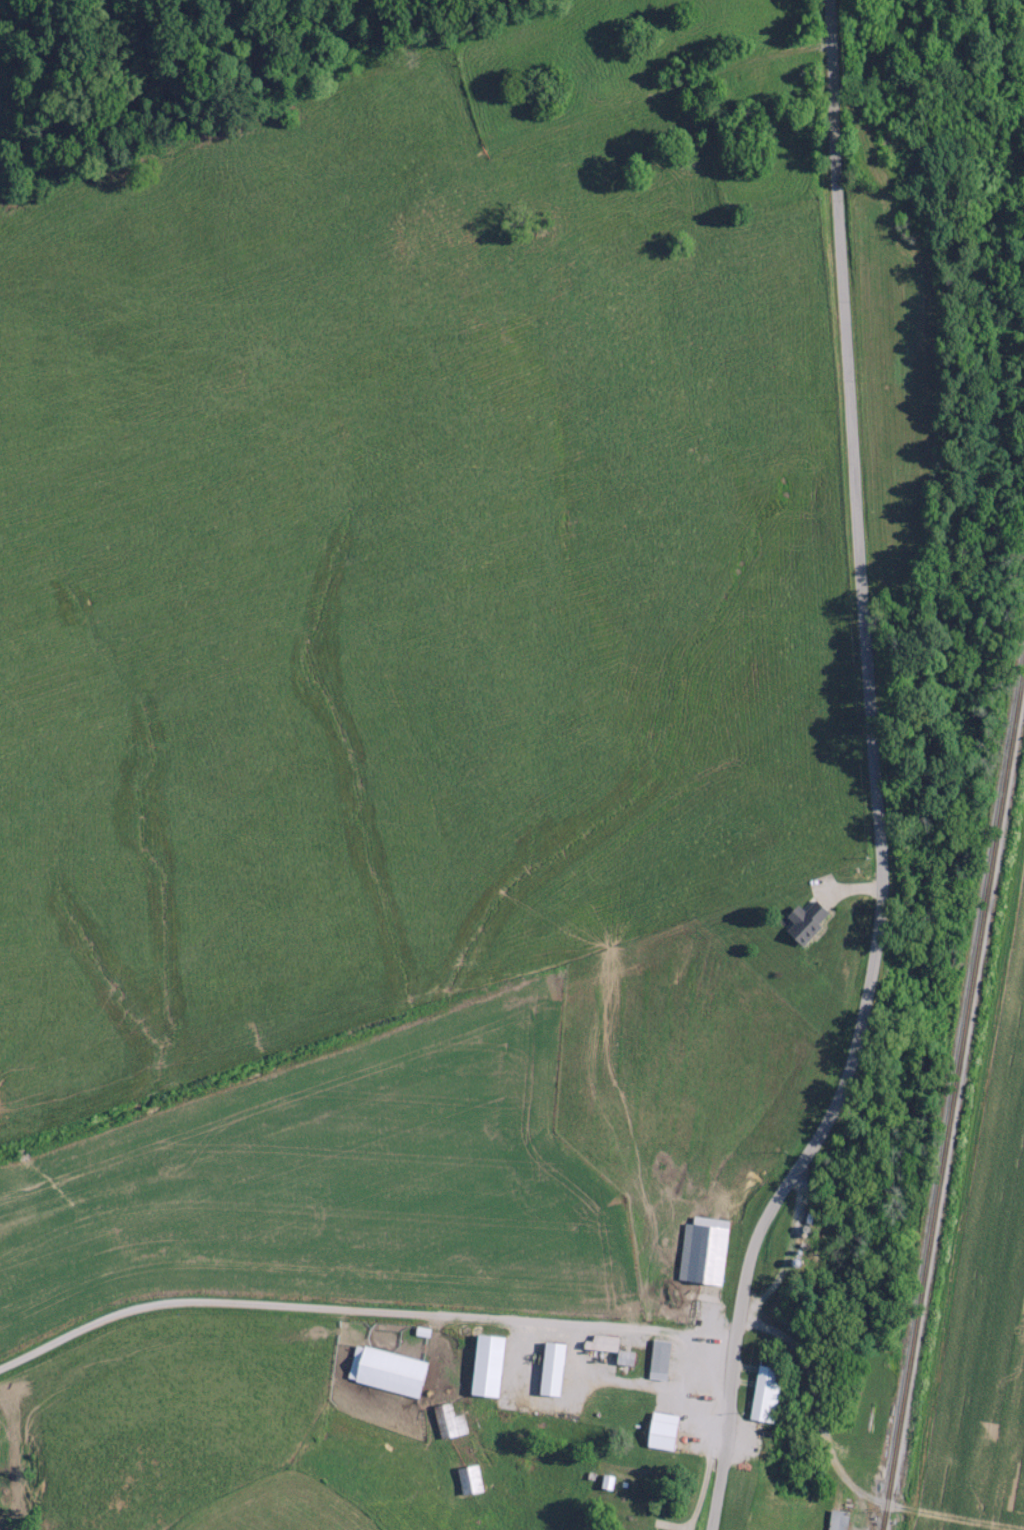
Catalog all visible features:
road: (875, 780)
building: (813, 921)
railway: (939, 1035)
building: (709, 1250)
building: (609, 1343)
building: (632, 1357)
building: (665, 1359)
road: (367, 1361)
building: (496, 1365)
building: (559, 1369)
building: (394, 1371)
building: (772, 1395)
building: (454, 1421)
building: (668, 1431)
building: (476, 1480)
building: (845, 1520)

